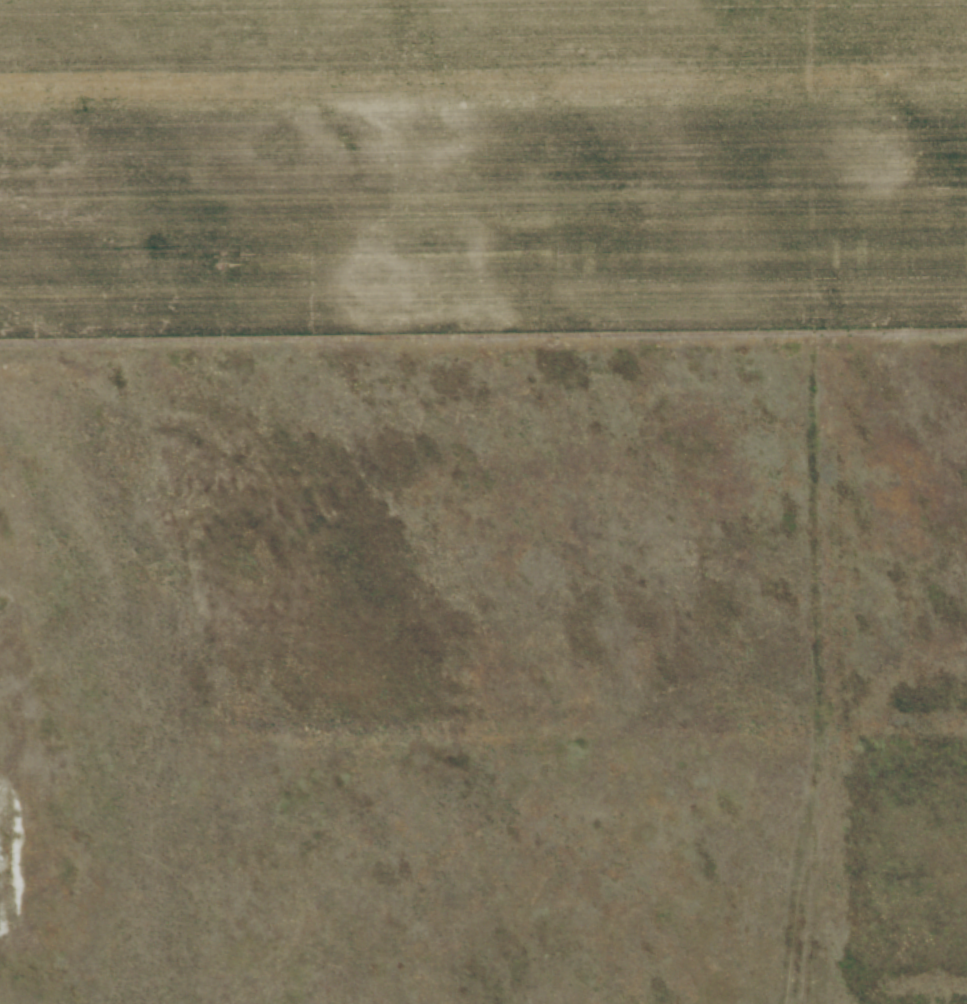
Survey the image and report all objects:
crop: (480, 168)

